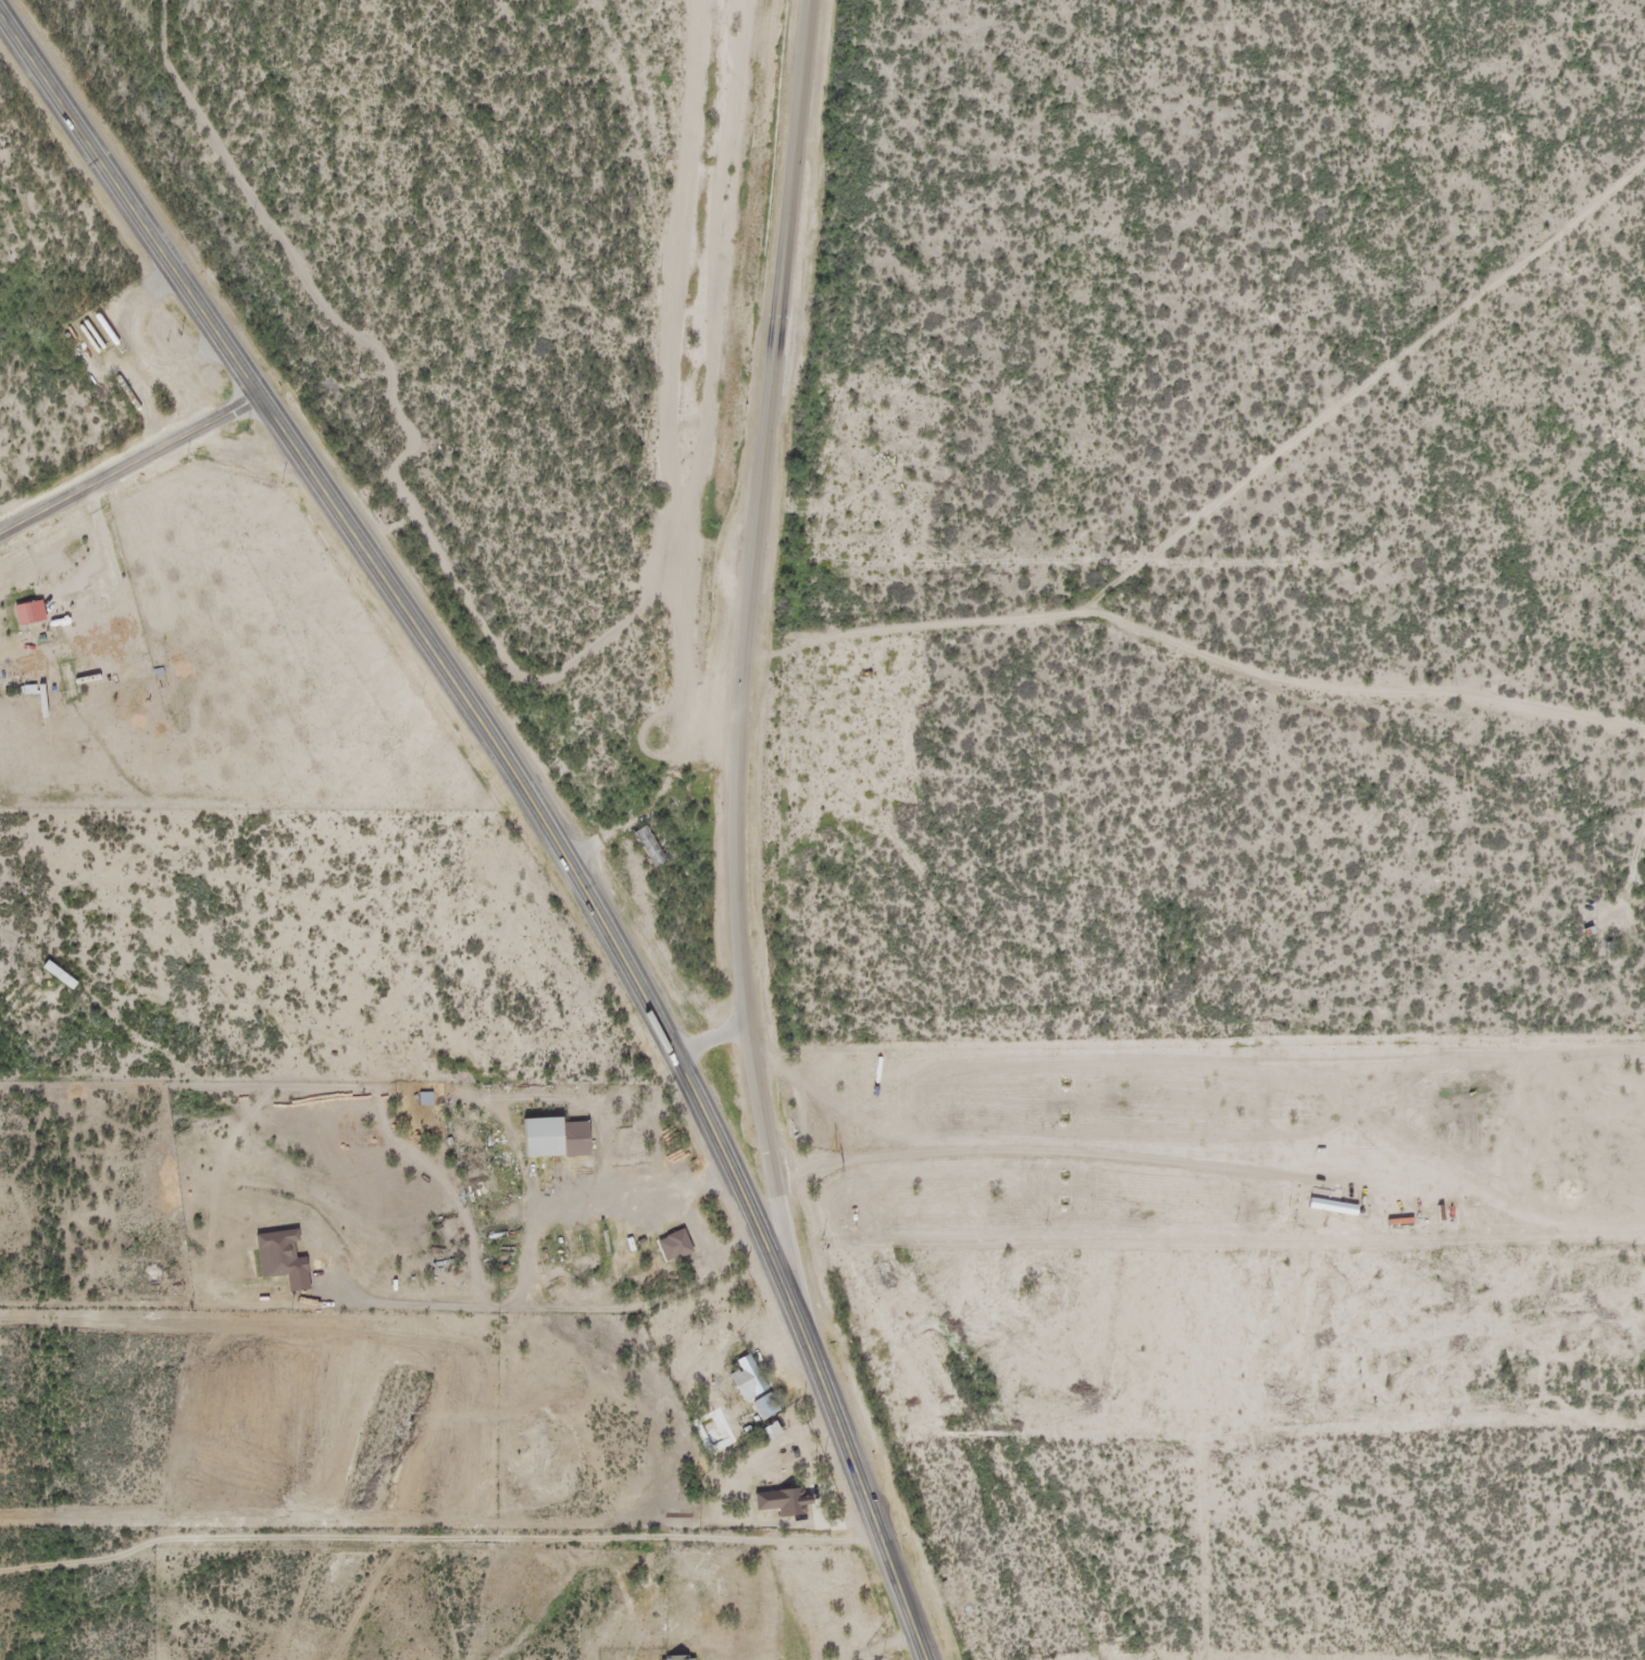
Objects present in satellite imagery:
building: (90, 336)
road: (133, 463)
road: (1231, 491)
road: (746, 644)
road: (1357, 681)
road: (528, 796)
building: (1593, 950)
building: (52, 977)
road: (706, 1016)
building: (548, 1140)
building: (672, 1246)
road: (454, 1272)
building: (740, 1381)
building: (759, 1408)
road: (424, 1458)
building: (786, 1505)
building: (671, 1659)

